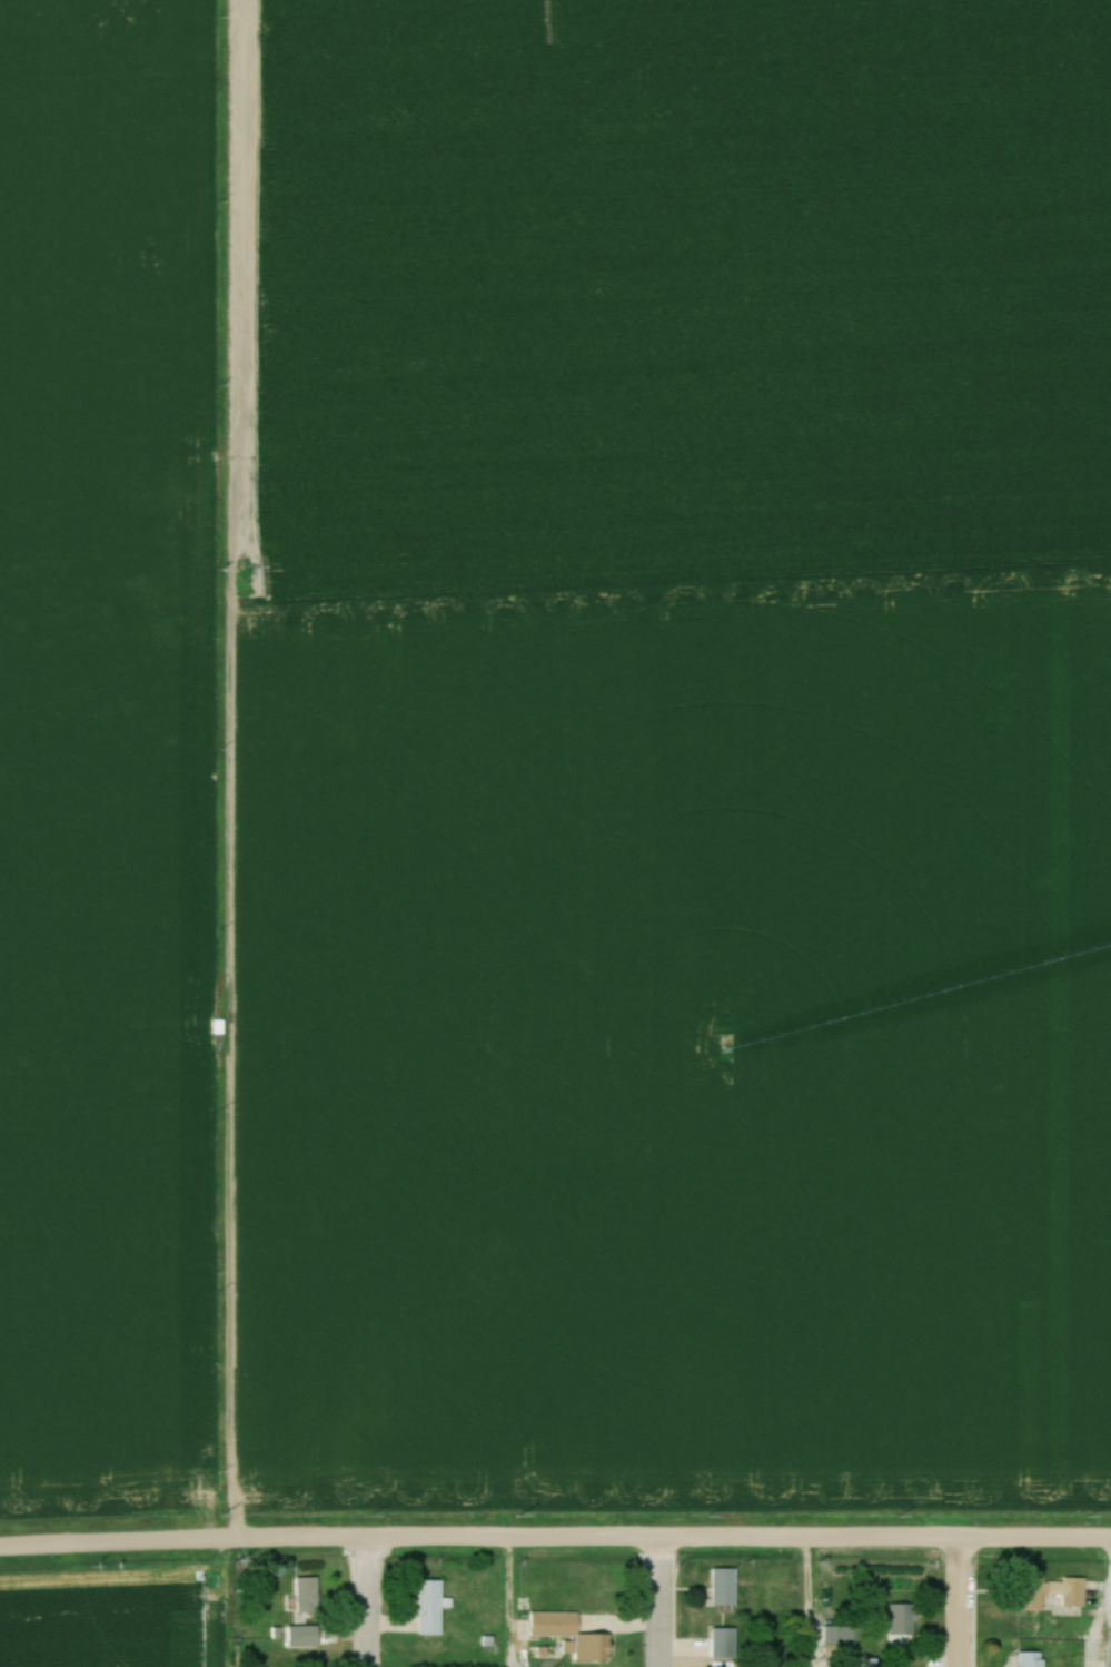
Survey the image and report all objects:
road: (740, 1540)
road: (185, 1543)
building: (724, 1588)
building: (1057, 1592)
building: (307, 1596)
road: (369, 1604)
road: (663, 1604)
road: (810, 1604)
road: (959, 1604)
building: (430, 1609)
building: (901, 1620)
building: (569, 1635)
building: (304, 1638)
building: (724, 1645)
building: (1030, 1660)

